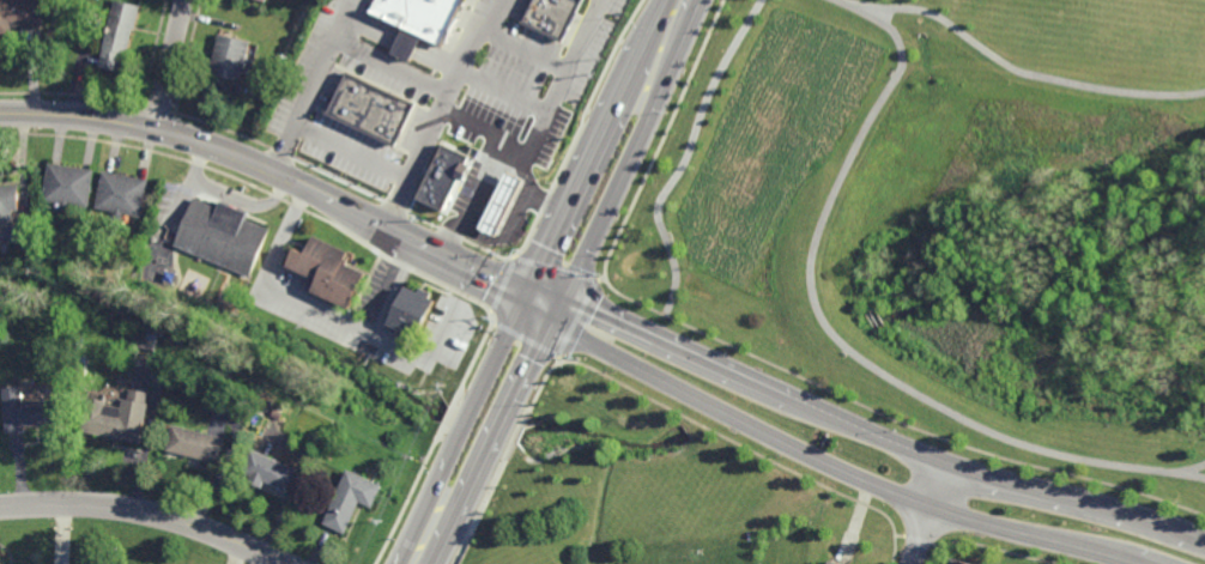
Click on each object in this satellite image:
building: (264, 0)
road: (859, 6)
building: (556, 11)
building: (20, 14)
building: (424, 14)
building: (121, 31)
road: (527, 53)
building: (231, 56)
road: (172, 63)
road: (426, 84)
road: (309, 98)
road: (555, 99)
building: (374, 107)
road: (664, 138)
road: (353, 148)
road: (689, 154)
road: (417, 159)
road: (272, 169)
building: (449, 169)
building: (69, 184)
road: (834, 192)
building: (122, 194)
building: (8, 201)
building: (499, 207)
park: (947, 213)
building: (18, 232)
building: (224, 235)
road: (556, 267)
building: (332, 272)
road: (531, 281)
road: (569, 284)
road: (501, 287)
traffic signals: (526, 291)
traffic signals: (562, 299)
road: (315, 309)
building: (414, 311)
traffic signals: (553, 316)
road: (579, 317)
road: (523, 336)
building: (145, 344)
road: (426, 348)
building: (423, 359)
building: (102, 396)
building: (30, 412)
road: (891, 416)
building: (120, 418)
road: (860, 429)
building: (196, 445)
road: (819, 457)
road: (1194, 467)
building: (270, 472)
building: (352, 501)
road: (146, 511)
road: (928, 514)
building: (835, 560)
building: (961, 560)

